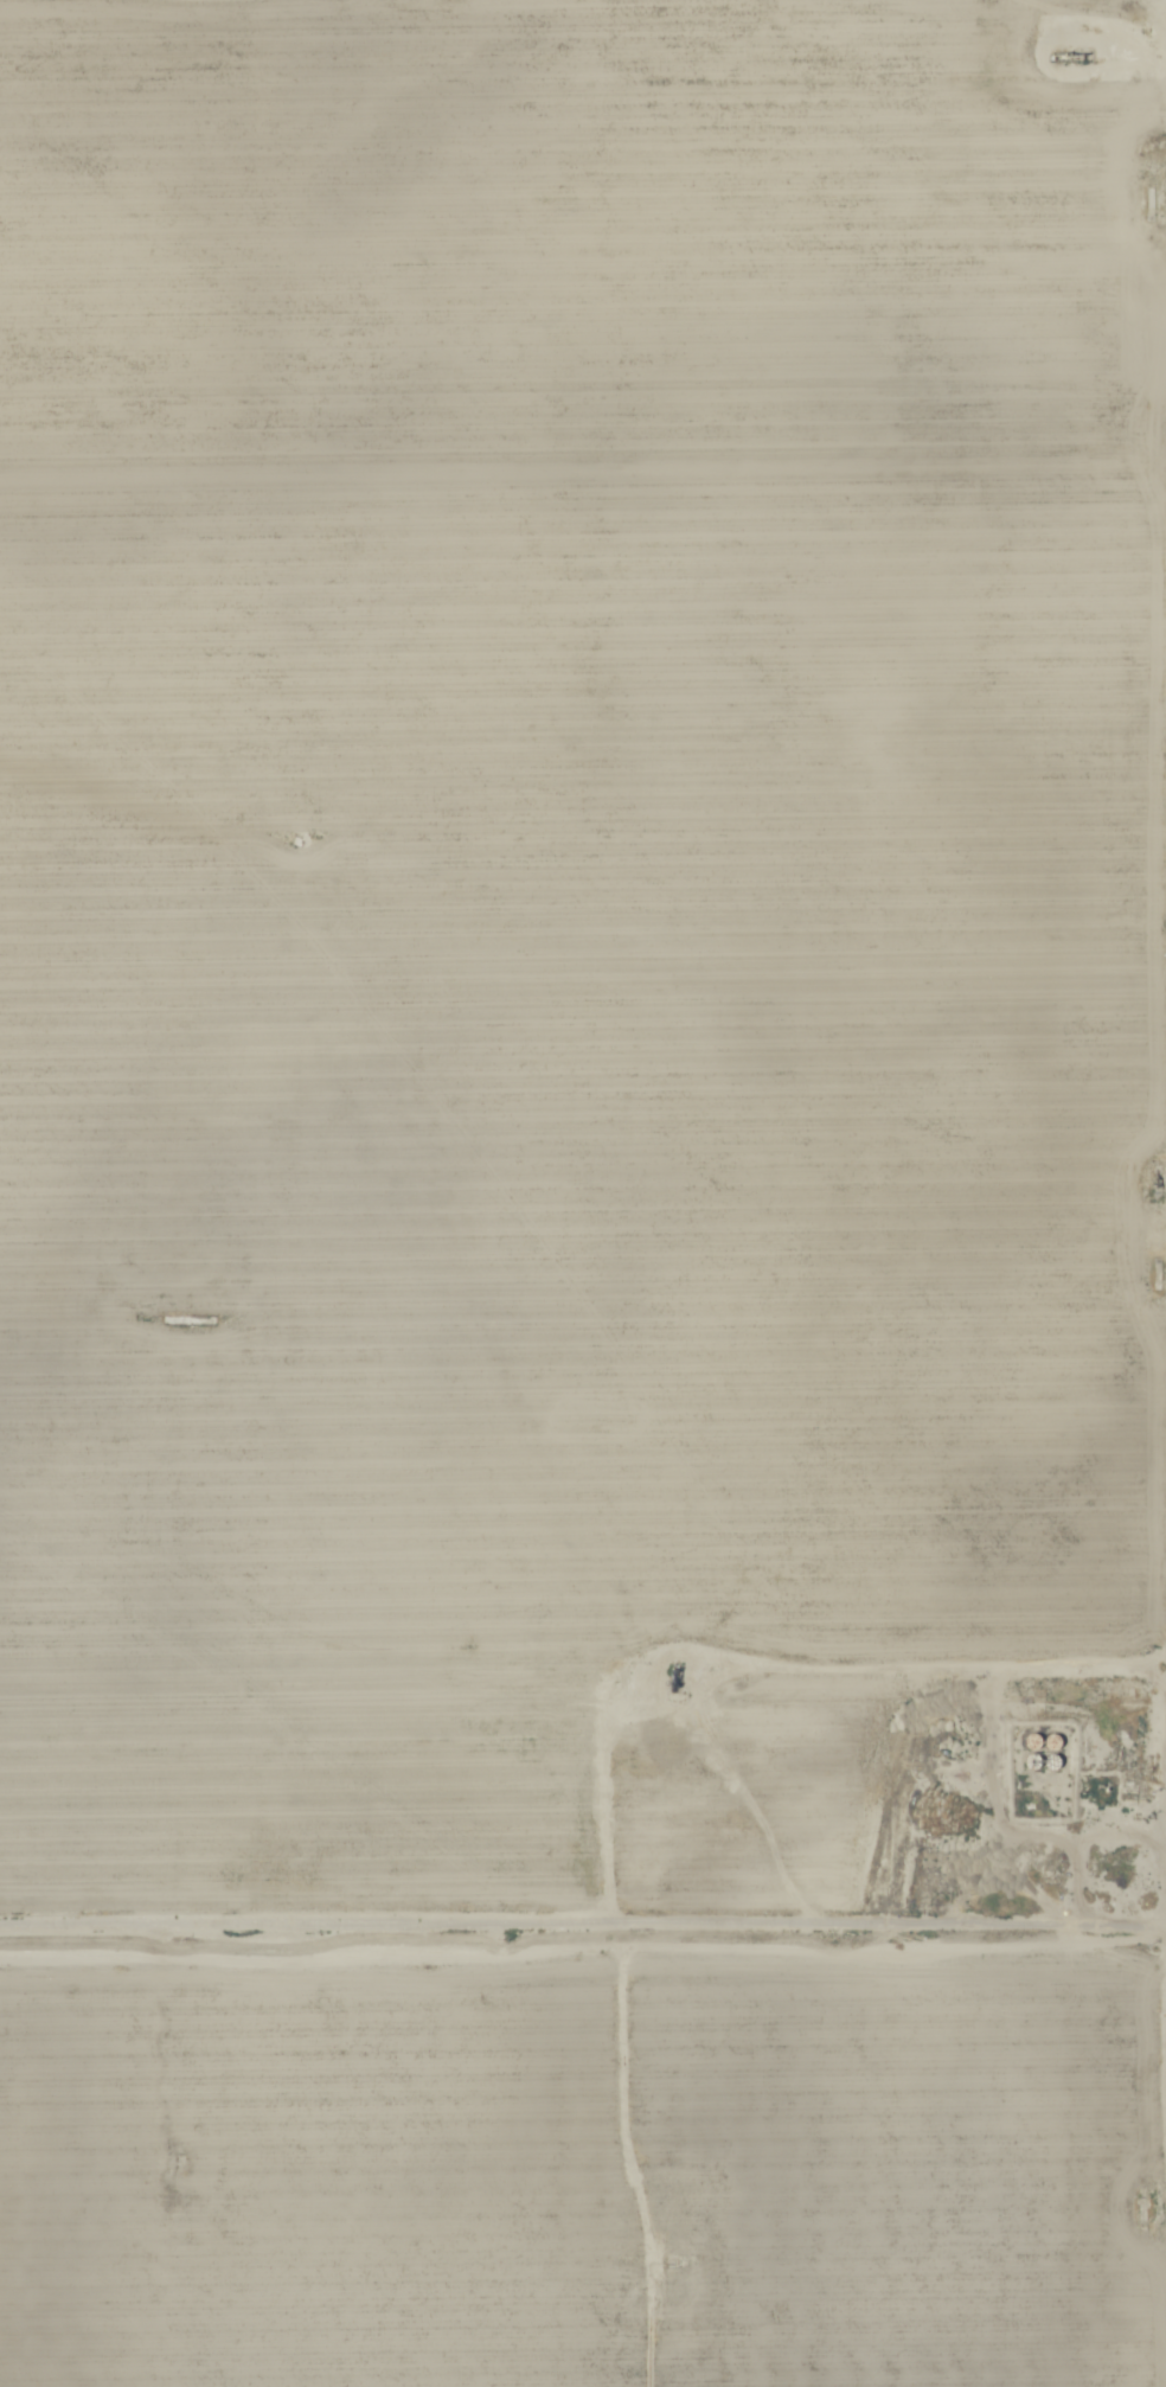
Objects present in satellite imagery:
wastewater plant: (1114, 193)

